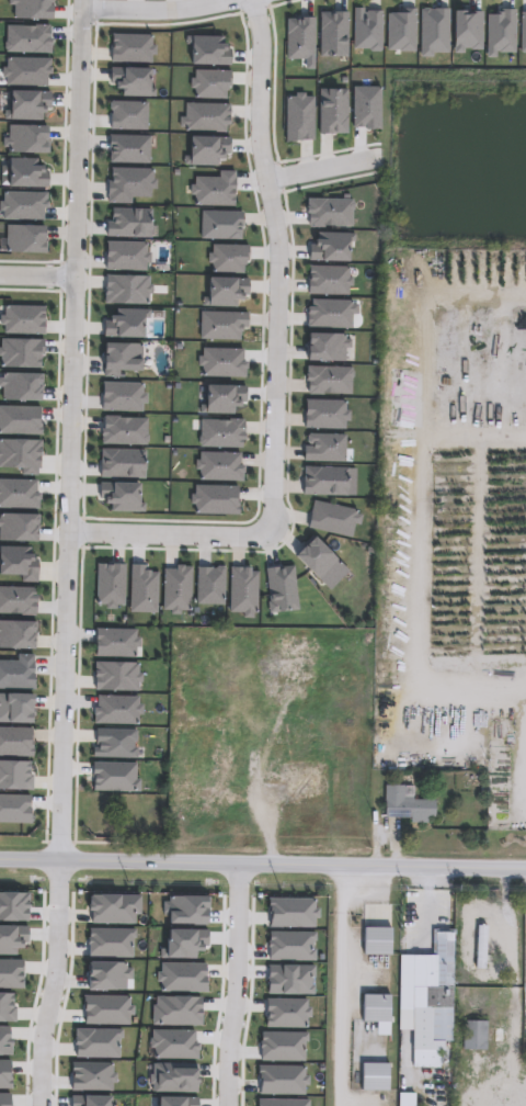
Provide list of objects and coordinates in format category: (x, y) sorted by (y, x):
road: (156, 10)
building: (366, 29)
building: (400, 29)
building: (332, 33)
building: (298, 36)
building: (26, 37)
building: (25, 70)
building: (131, 80)
building: (209, 83)
building: (366, 108)
building: (332, 110)
building: (127, 114)
building: (204, 116)
building: (128, 147)
building: (205, 148)
road: (322, 169)
building: (24, 172)
building: (127, 182)
building: (213, 189)
building: (329, 211)
building: (220, 224)
building: (24, 238)
building: (330, 246)
building: (126, 255)
building: (226, 257)
road: (37, 275)
building: (329, 279)
building: (225, 290)
building: (330, 312)
building: (22, 318)
building: (125, 323)
building: (222, 325)
building: (328, 346)
building: (221, 361)
road: (275, 363)
building: (328, 379)
building: (123, 395)
building: (220, 397)
building: (325, 414)
road: (71, 429)
building: (221, 431)
building: (323, 447)
building: (121, 463)
building: (218, 464)
building: (327, 481)
building: (19, 493)
building: (119, 495)
road: (430, 497)
building: (332, 519)
building: (19, 527)
building: (316, 558)
building: (12, 564)
building: (209, 584)
building: (141, 587)
building: (176, 588)
building: (242, 590)
building: (18, 600)
building: (115, 642)
building: (294, 661)
building: (15, 741)
building: (114, 776)
building: (297, 780)
building: (407, 803)
road: (263, 861)
road: (425, 905)
building: (4, 936)
building: (483, 939)
building: (376, 943)
road: (49, 982)
road: (235, 983)
road: (342, 984)
building: (434, 998)
building: (375, 1008)
building: (476, 1036)
building: (374, 1080)

